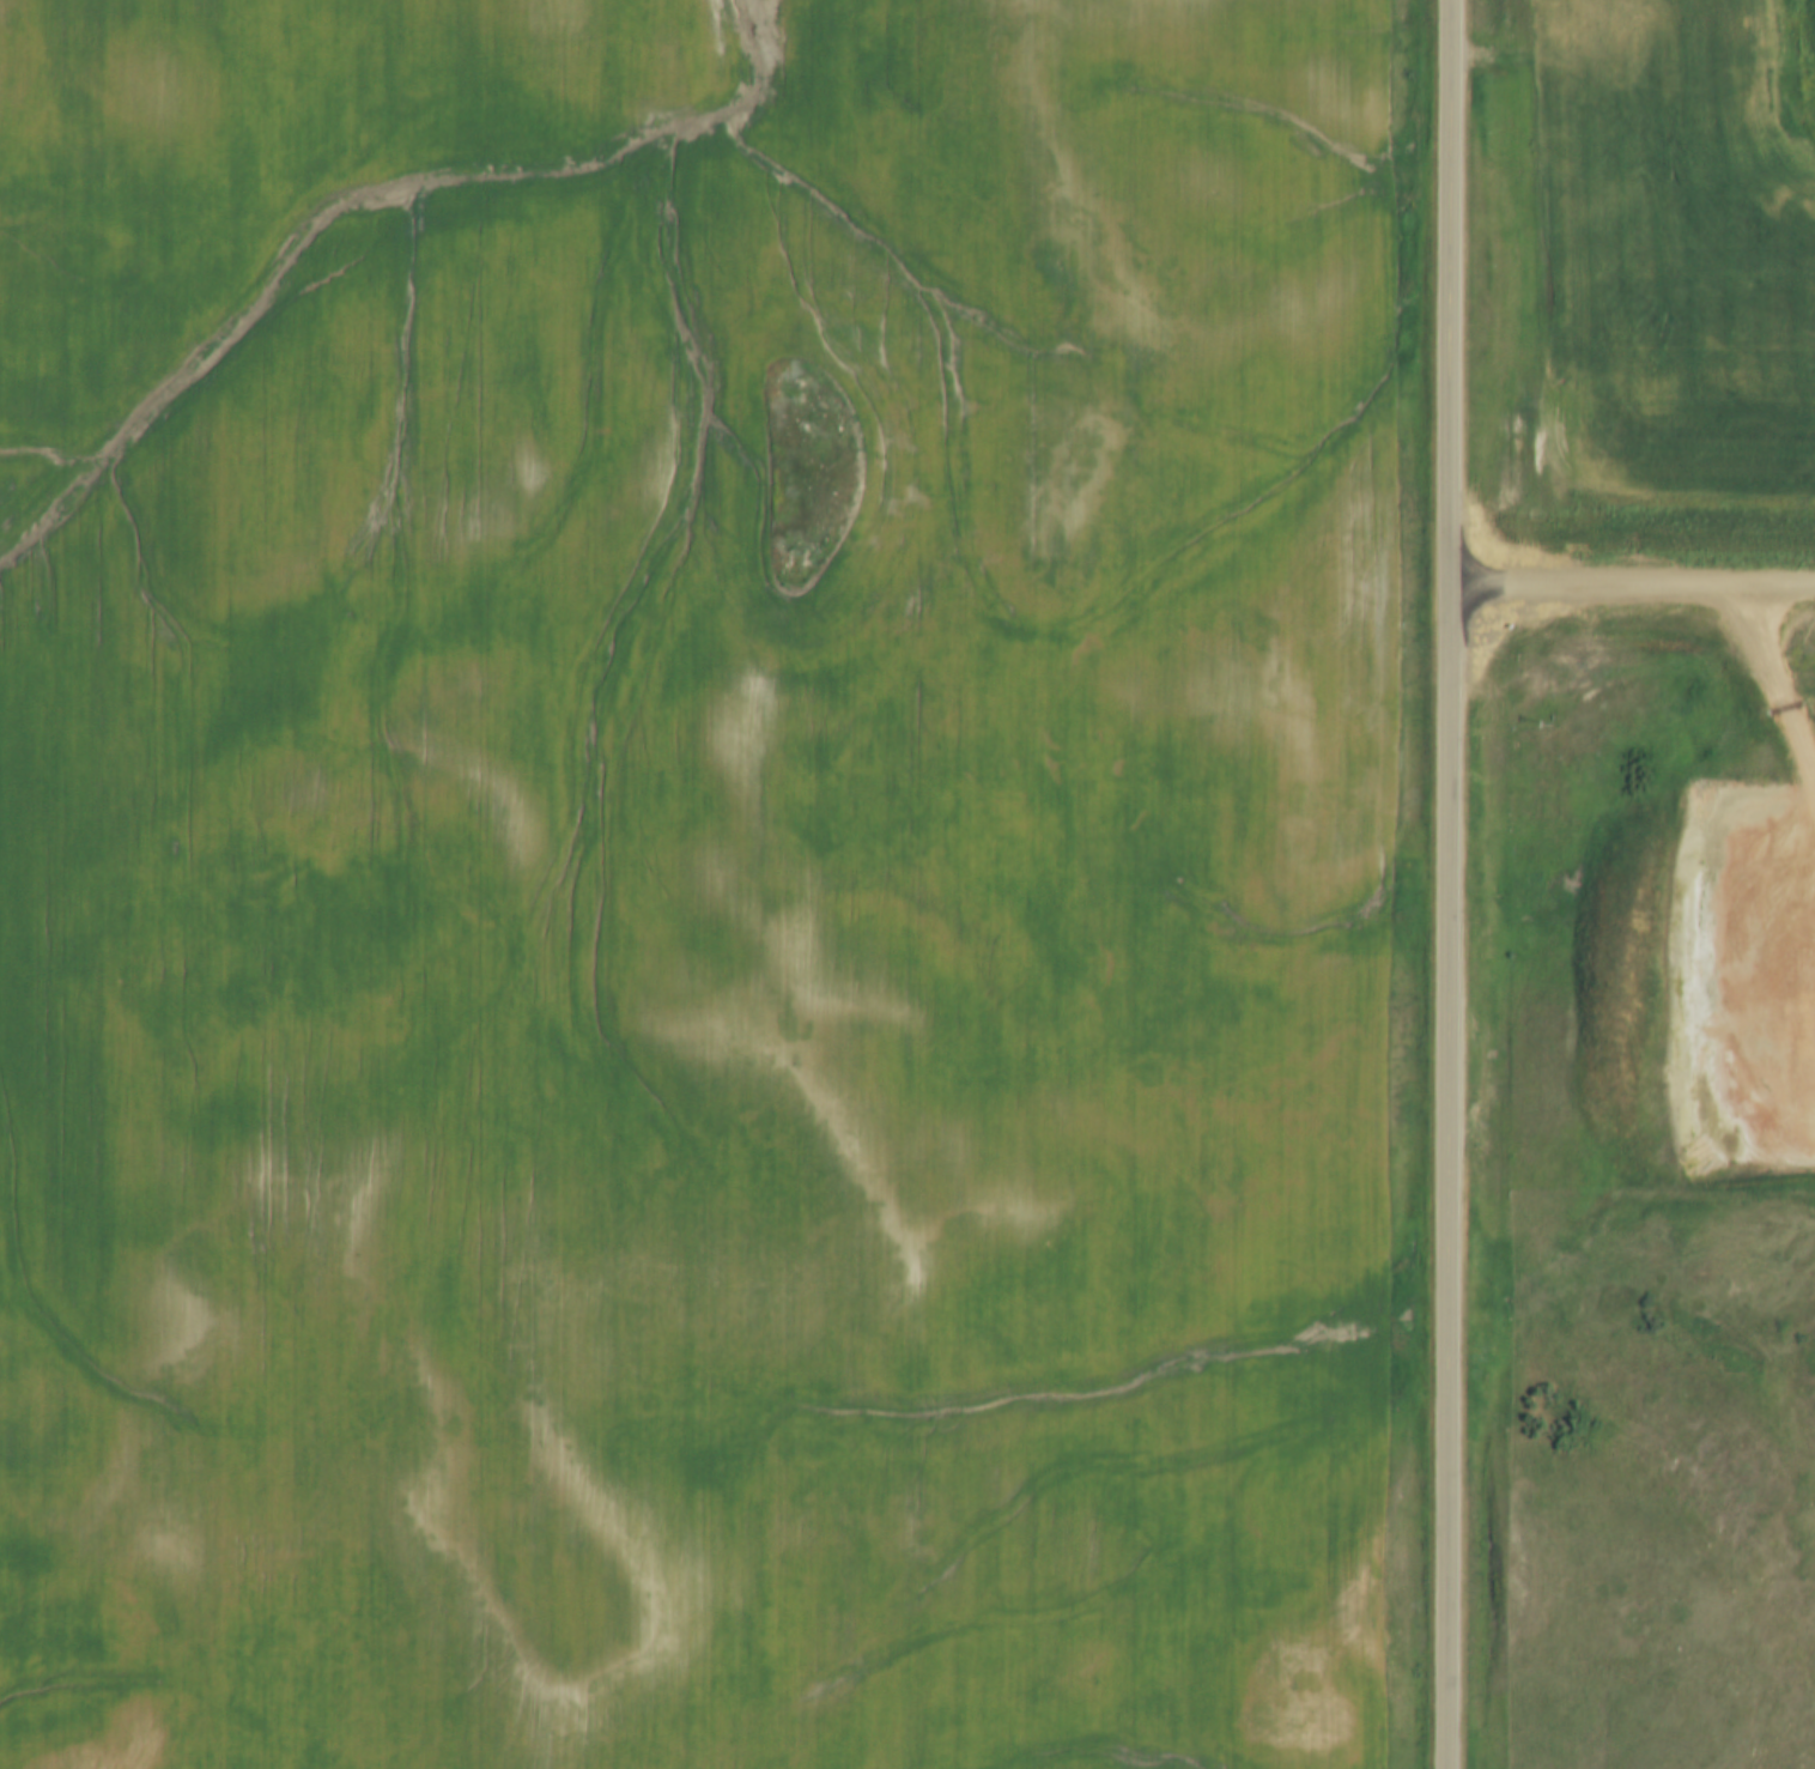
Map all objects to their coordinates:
road: (1708, 582)
road: (1762, 583)
road: (1443, 884)

